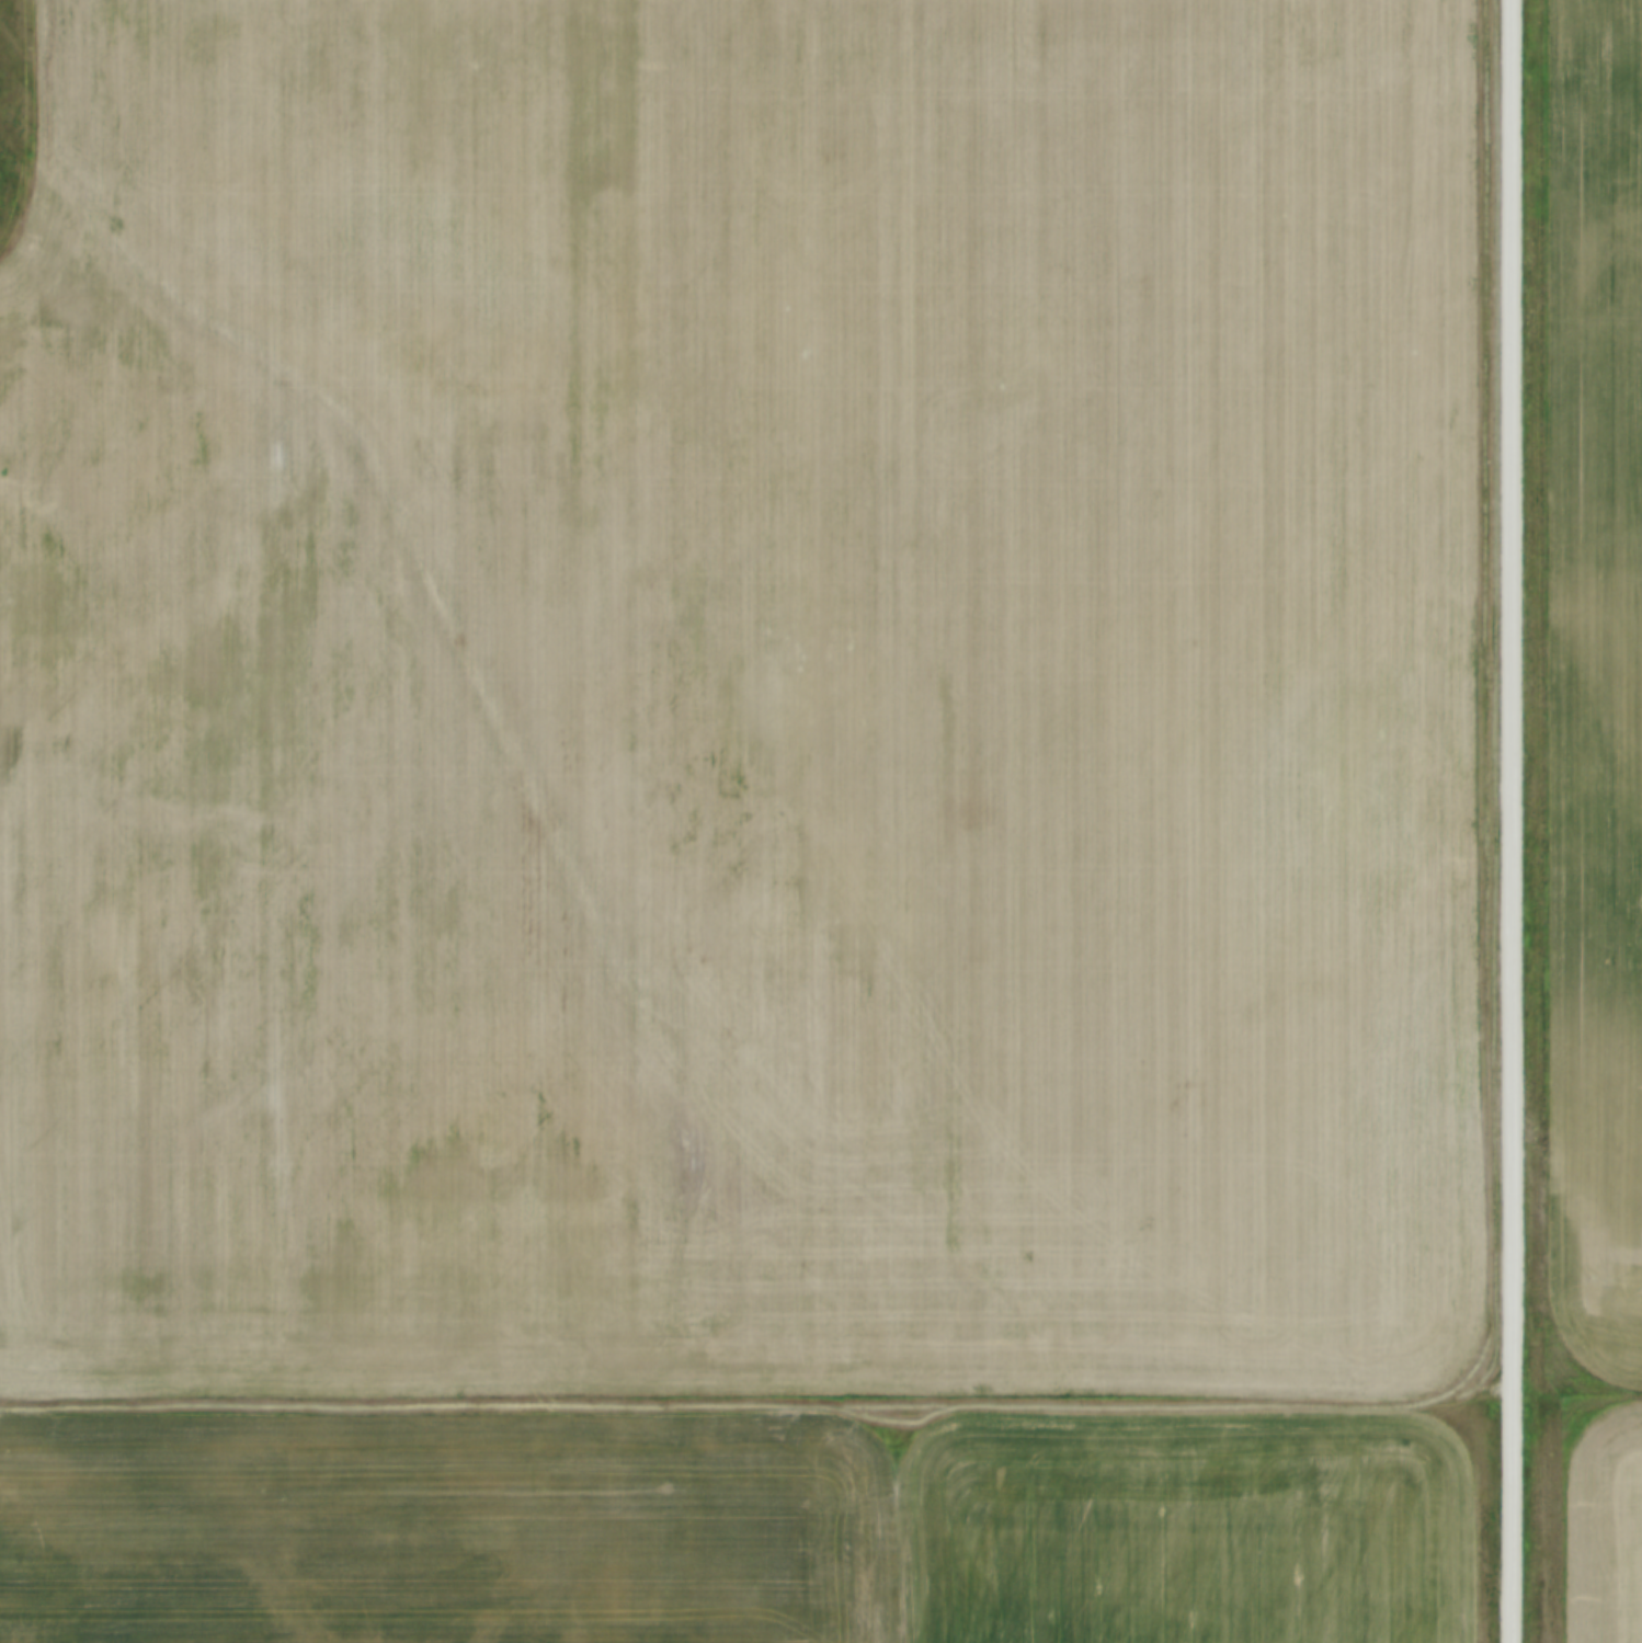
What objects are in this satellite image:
road: (1512, 821)

